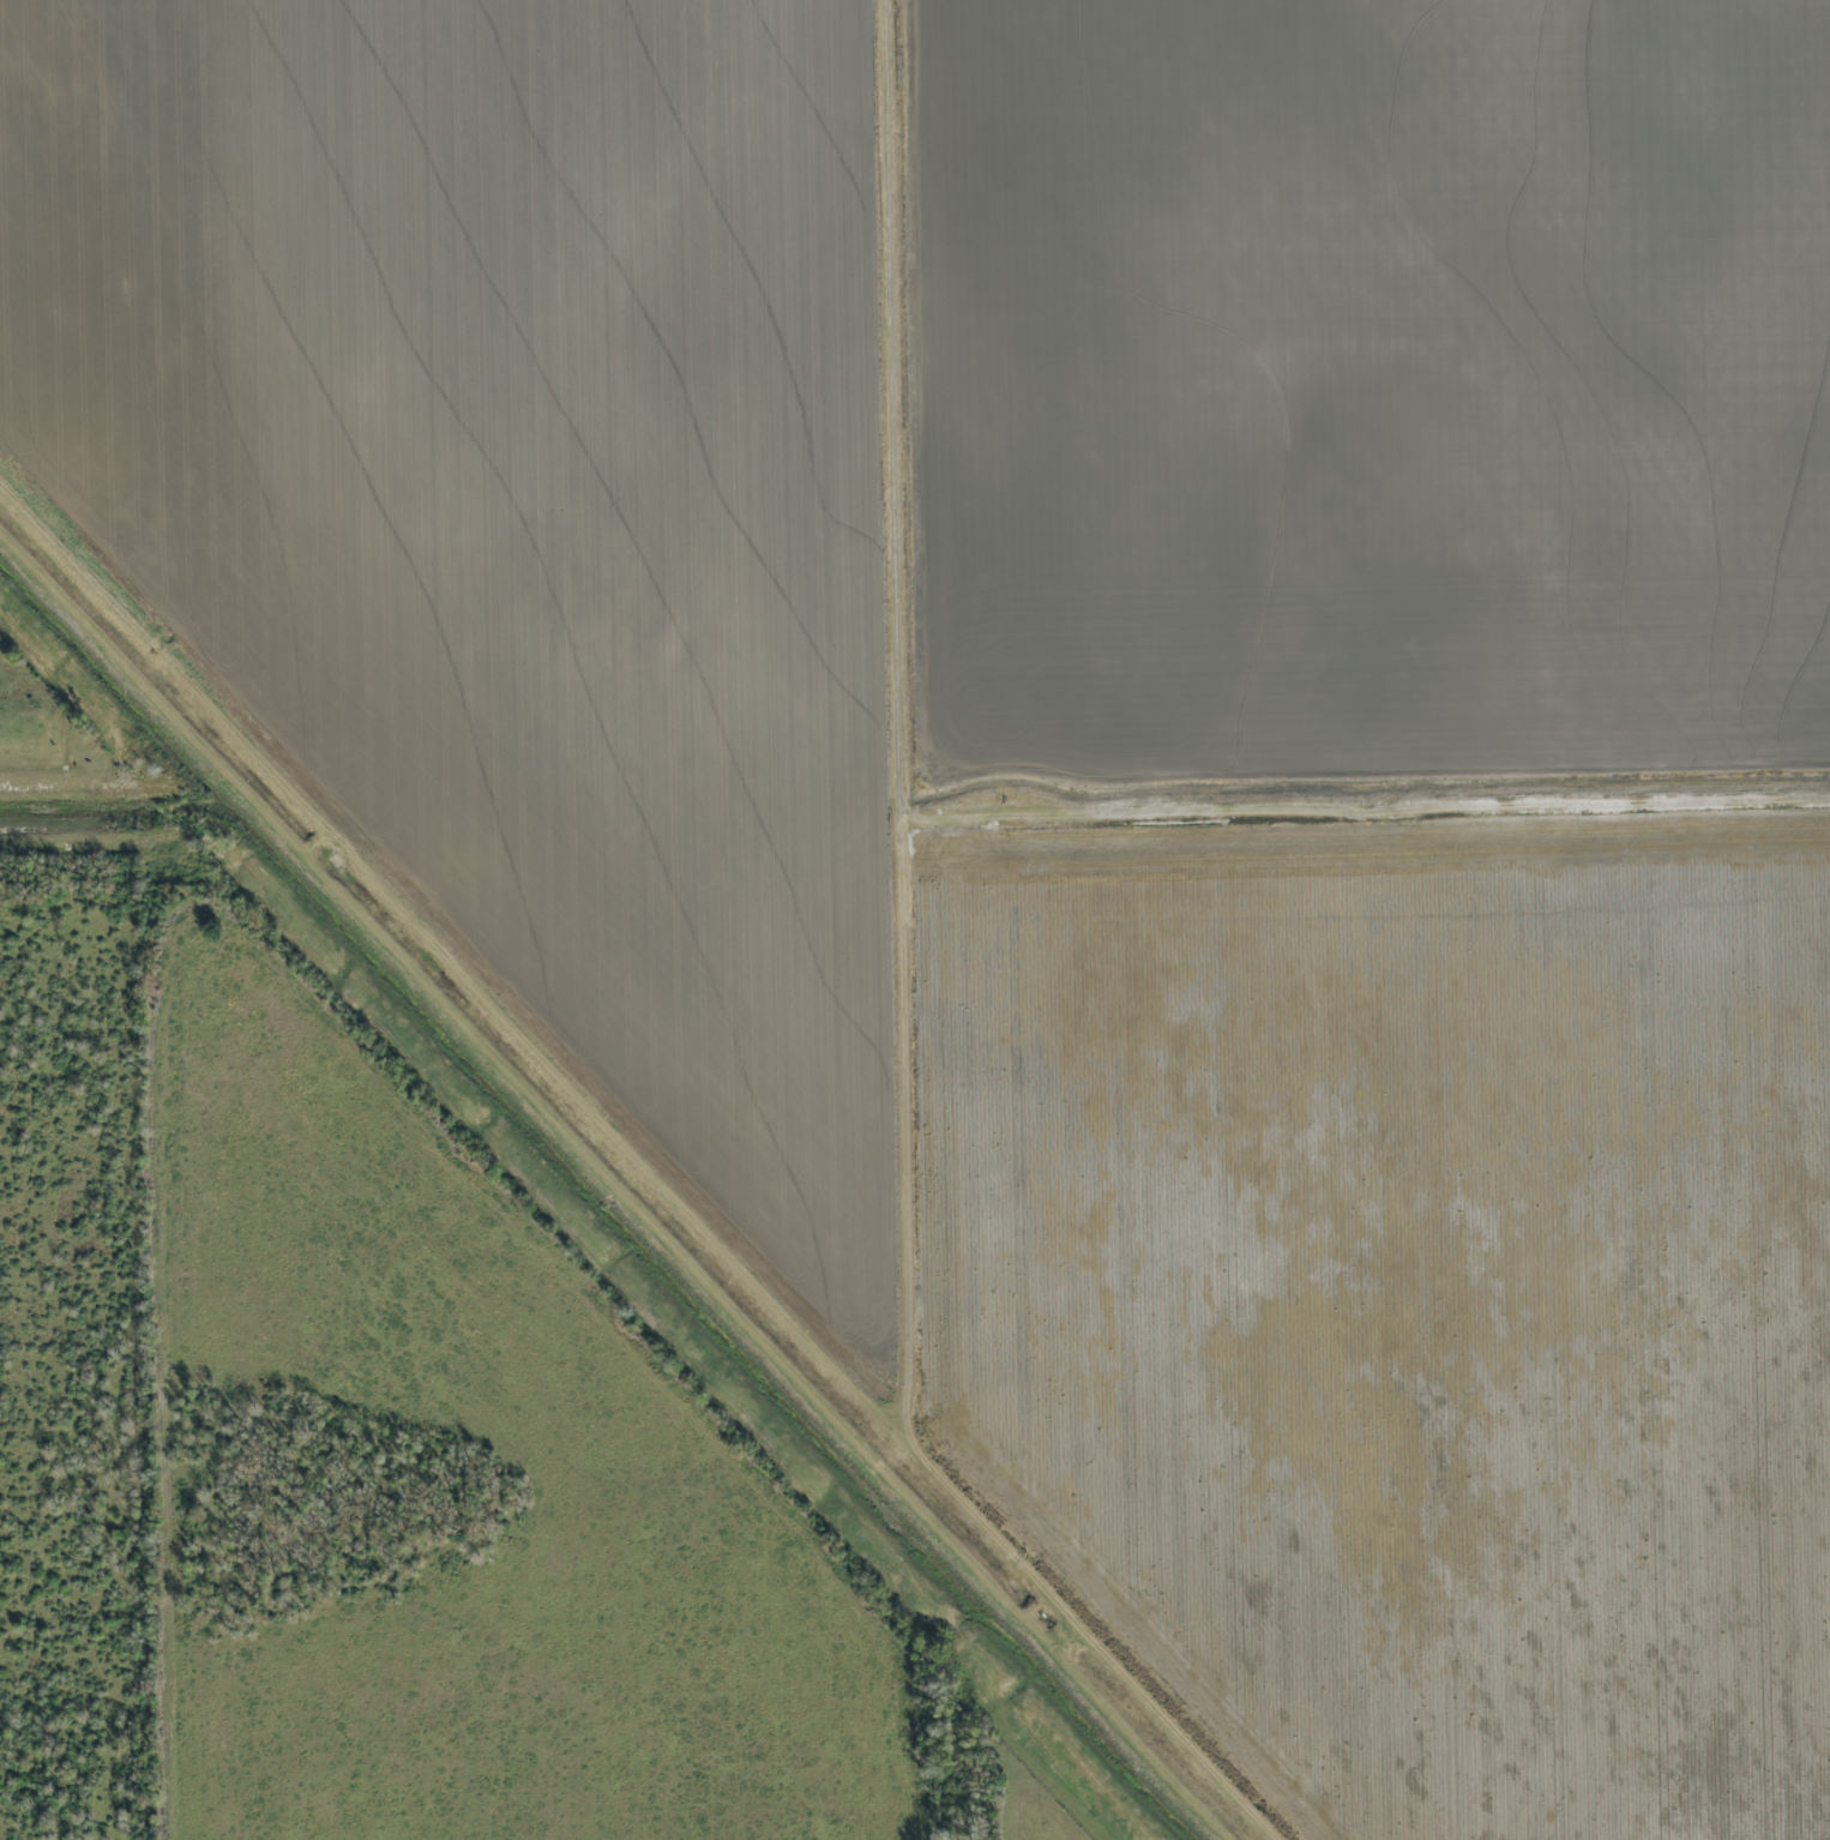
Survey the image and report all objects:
road: (921, 433)
road: (66, 787)
road: (943, 973)
road: (476, 981)
road: (180, 1297)

